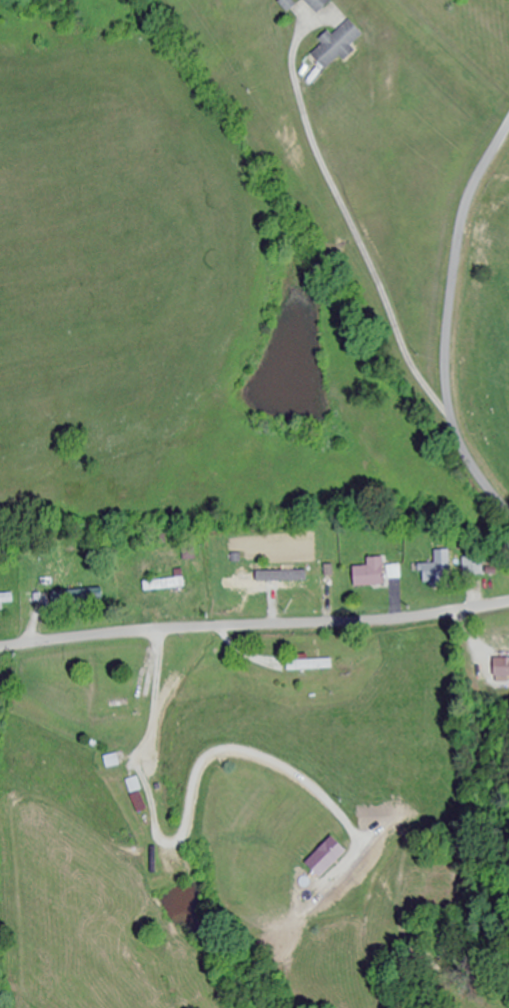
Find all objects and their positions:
building: (319, 4)
building: (338, 45)
road: (448, 320)
building: (474, 568)
building: (439, 571)
building: (394, 573)
building: (371, 574)
building: (164, 584)
building: (300, 584)
building: (245, 585)
building: (77, 596)
building: (6, 599)
road: (254, 641)
building: (310, 665)
building: (501, 669)
building: (124, 709)
building: (112, 762)
building: (139, 804)
building: (326, 859)

